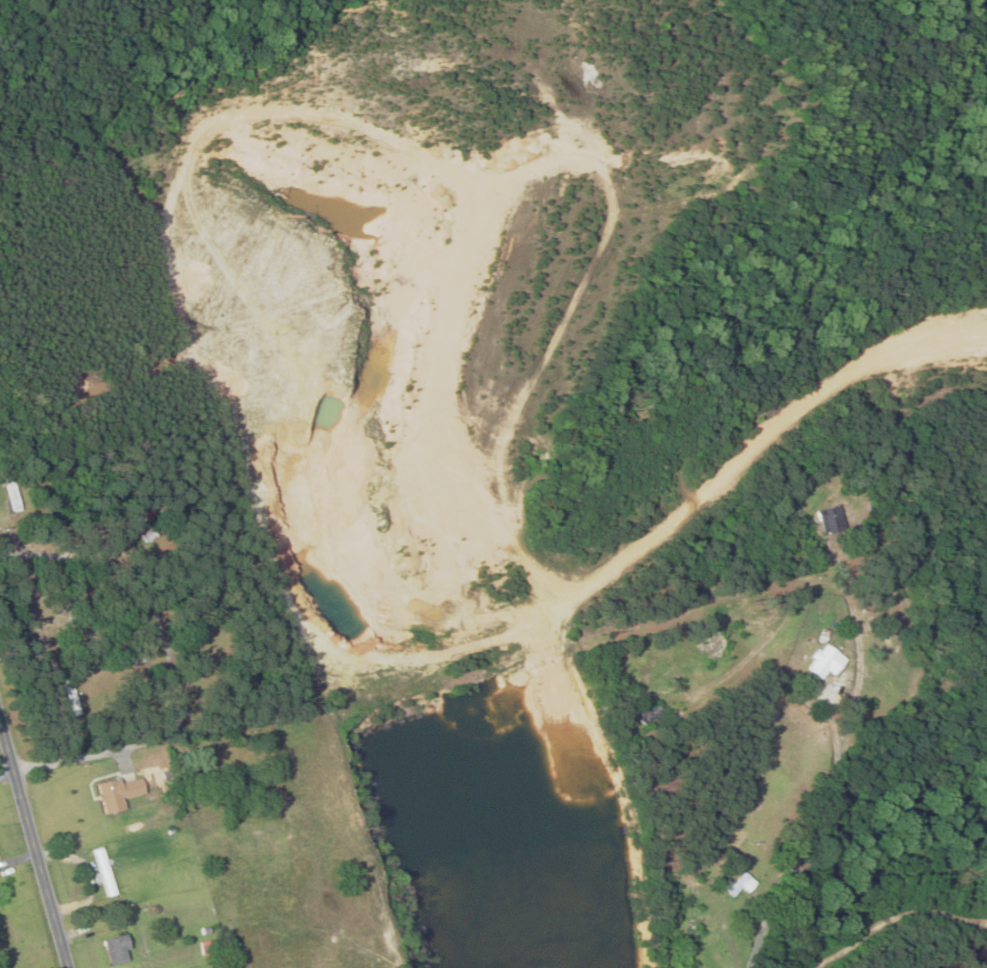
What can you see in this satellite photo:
building: (13, 494)
building: (832, 521)
building: (147, 533)
building: (713, 647)
building: (825, 662)
road: (847, 693)
building: (649, 716)
road: (108, 750)
building: (215, 770)
building: (118, 793)
road: (35, 841)
building: (105, 872)
building: (737, 885)
building: (708, 924)
road: (645, 936)
building: (117, 950)

